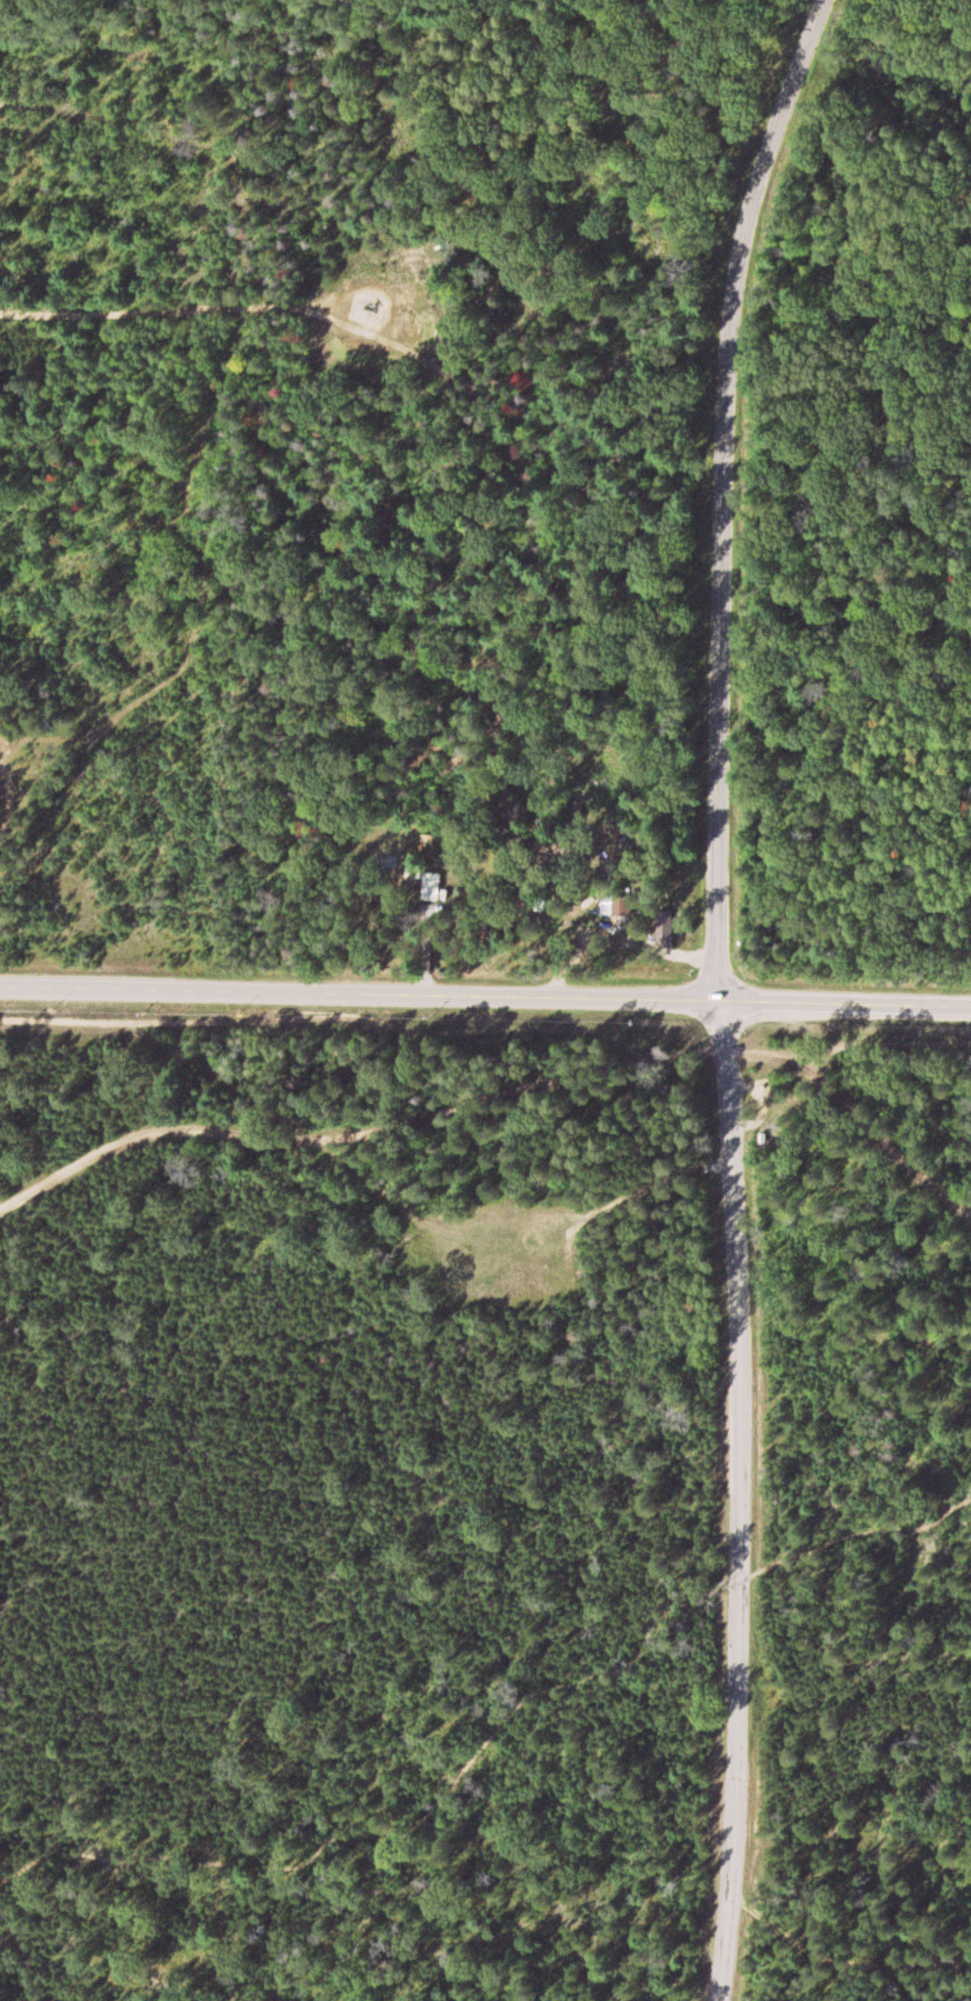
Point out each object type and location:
petroleum well: (371, 310)
road: (147, 314)
road: (726, 494)
building: (429, 887)
building: (662, 935)
road: (485, 999)
road: (487, 1122)
road: (745, 1502)
road: (488, 1737)
road: (781, 1965)

